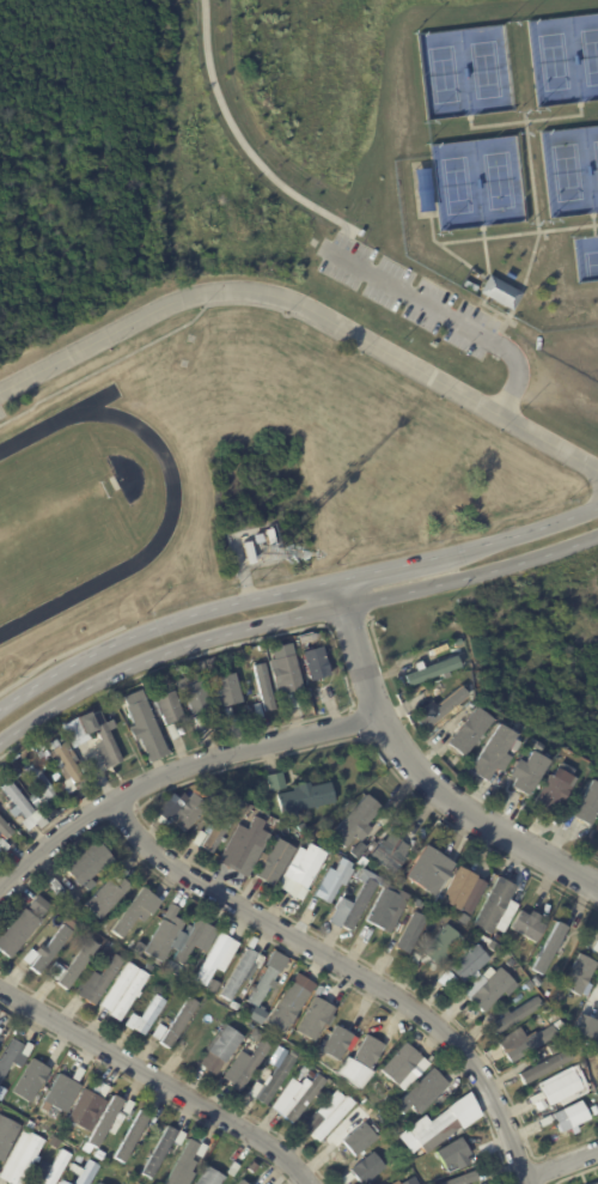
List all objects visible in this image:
park: (565, 55)
park: (590, 55)
park: (553, 61)
park: (462, 67)
park: (484, 69)
park: (441, 74)
road: (524, 121)
road: (248, 146)
park: (596, 159)
park: (570, 165)
park: (565, 172)
park: (476, 178)
park: (496, 180)
park: (454, 184)
road: (593, 218)
building: (356, 231)
road: (518, 232)
road: (538, 236)
road: (484, 243)
road: (446, 248)
park: (585, 256)
building: (470, 286)
building: (499, 291)
parking lot: (408, 295)
road: (307, 308)
road: (492, 309)
road: (450, 317)
parking lot: (1, 414)
track: (169, 514)
building: (273, 536)
building: (249, 553)
road: (292, 606)
building: (454, 642)
building: (262, 646)
building: (313, 662)
building: (210, 664)
building: (200, 668)
building: (287, 669)
building: (432, 670)
building: (263, 686)
building: (226, 687)
building: (194, 693)
building: (293, 698)
building: (169, 708)
building: (258, 709)
building: (440, 709)
building: (228, 712)
building: (140, 717)
building: (200, 719)
building: (172, 729)
building: (73, 733)
building: (466, 734)
building: (104, 741)
building: (535, 748)
building: (490, 754)
building: (559, 761)
building: (67, 767)
building: (16, 772)
road: (432, 772)
building: (525, 775)
road: (178, 778)
building: (273, 781)
building: (29, 782)
building: (41, 785)
building: (550, 794)
building: (303, 797)
building: (17, 803)
building: (587, 806)
building: (184, 810)
building: (352, 822)
building: (218, 825)
building: (4, 831)
building: (195, 839)
building: (271, 839)
building: (242, 844)
building: (1, 845)
building: (354, 850)
building: (383, 856)
building: (359, 861)
building: (271, 862)
building: (87, 864)
building: (300, 867)
building: (421, 867)
building: (118, 873)
building: (329, 881)
building: (459, 887)
building: (80, 889)
building: (69, 897)
building: (102, 899)
building: (382, 900)
building: (39, 904)
building: (431, 905)
building: (489, 905)
building: (132, 910)
building: (458, 918)
building: (71, 921)
building: (93, 922)
building: (523, 925)
building: (16, 933)
building: (160, 934)
building: (417, 934)
building: (492, 937)
building: (191, 940)
building: (434, 946)
building: (487, 946)
building: (594, 947)
building: (545, 948)
building: (42, 952)
building: (209, 958)
building: (409, 959)
building: (462, 961)
building: (184, 965)
building: (69, 966)
building: (128, 972)
building: (237, 972)
road: (348, 972)
building: (573, 976)
building: (443, 978)
building: (94, 982)
building: (530, 982)
building: (208, 985)
building: (256, 986)
building: (478, 989)
building: (596, 995)
building: (121, 996)
building: (262, 1000)
building: (230, 1004)
building: (281, 1007)
building: (237, 1008)
building: (509, 1014)
building: (141, 1015)
building: (306, 1018)
building: (170, 1024)
building: (578, 1026)
building: (2, 1033)
building: (506, 1033)
building: (331, 1042)
building: (505, 1043)
building: (220, 1044)
building: (525, 1044)
building: (545, 1049)
building: (277, 1052)
building: (12, 1054)
building: (354, 1061)
building: (393, 1063)
building: (576, 1064)
building: (537, 1067)
building: (239, 1068)
building: (77, 1073)
building: (304, 1075)
building: (273, 1079)
building: (26, 1080)
road: (159, 1082)
building: (557, 1087)
building: (252, 1089)
building: (1, 1091)
building: (416, 1091)
building: (57, 1092)
building: (325, 1093)
building: (298, 1098)
building: (85, 1107)
building: (127, 1109)
building: (590, 1109)
building: (563, 1117)
building: (324, 1118)
building: (100, 1124)
building: (434, 1129)
building: (6, 1135)
building: (128, 1136)
building: (178, 1137)
building: (356, 1140)
building: (53, 1152)
building: (157, 1153)
building: (97, 1154)
building: (451, 1155)
building: (185, 1158)
building: (25, 1159)
road: (563, 1161)
building: (74, 1164)
building: (53, 1167)
building: (232, 1168)
building: (361, 1170)
building: (84, 1173)
building: (402, 1176)
building: (209, 1177)
building: (458, 1178)
building: (469, 1179)
building: (407, 1180)
building: (59, 1182)
building: (30, 1183)
building: (92, 1183)
building: (97, 1183)
building: (129, 1183)
building: (239, 1183)
building: (395, 1183)
building: (427, 1183)
building: (596, 1183)

